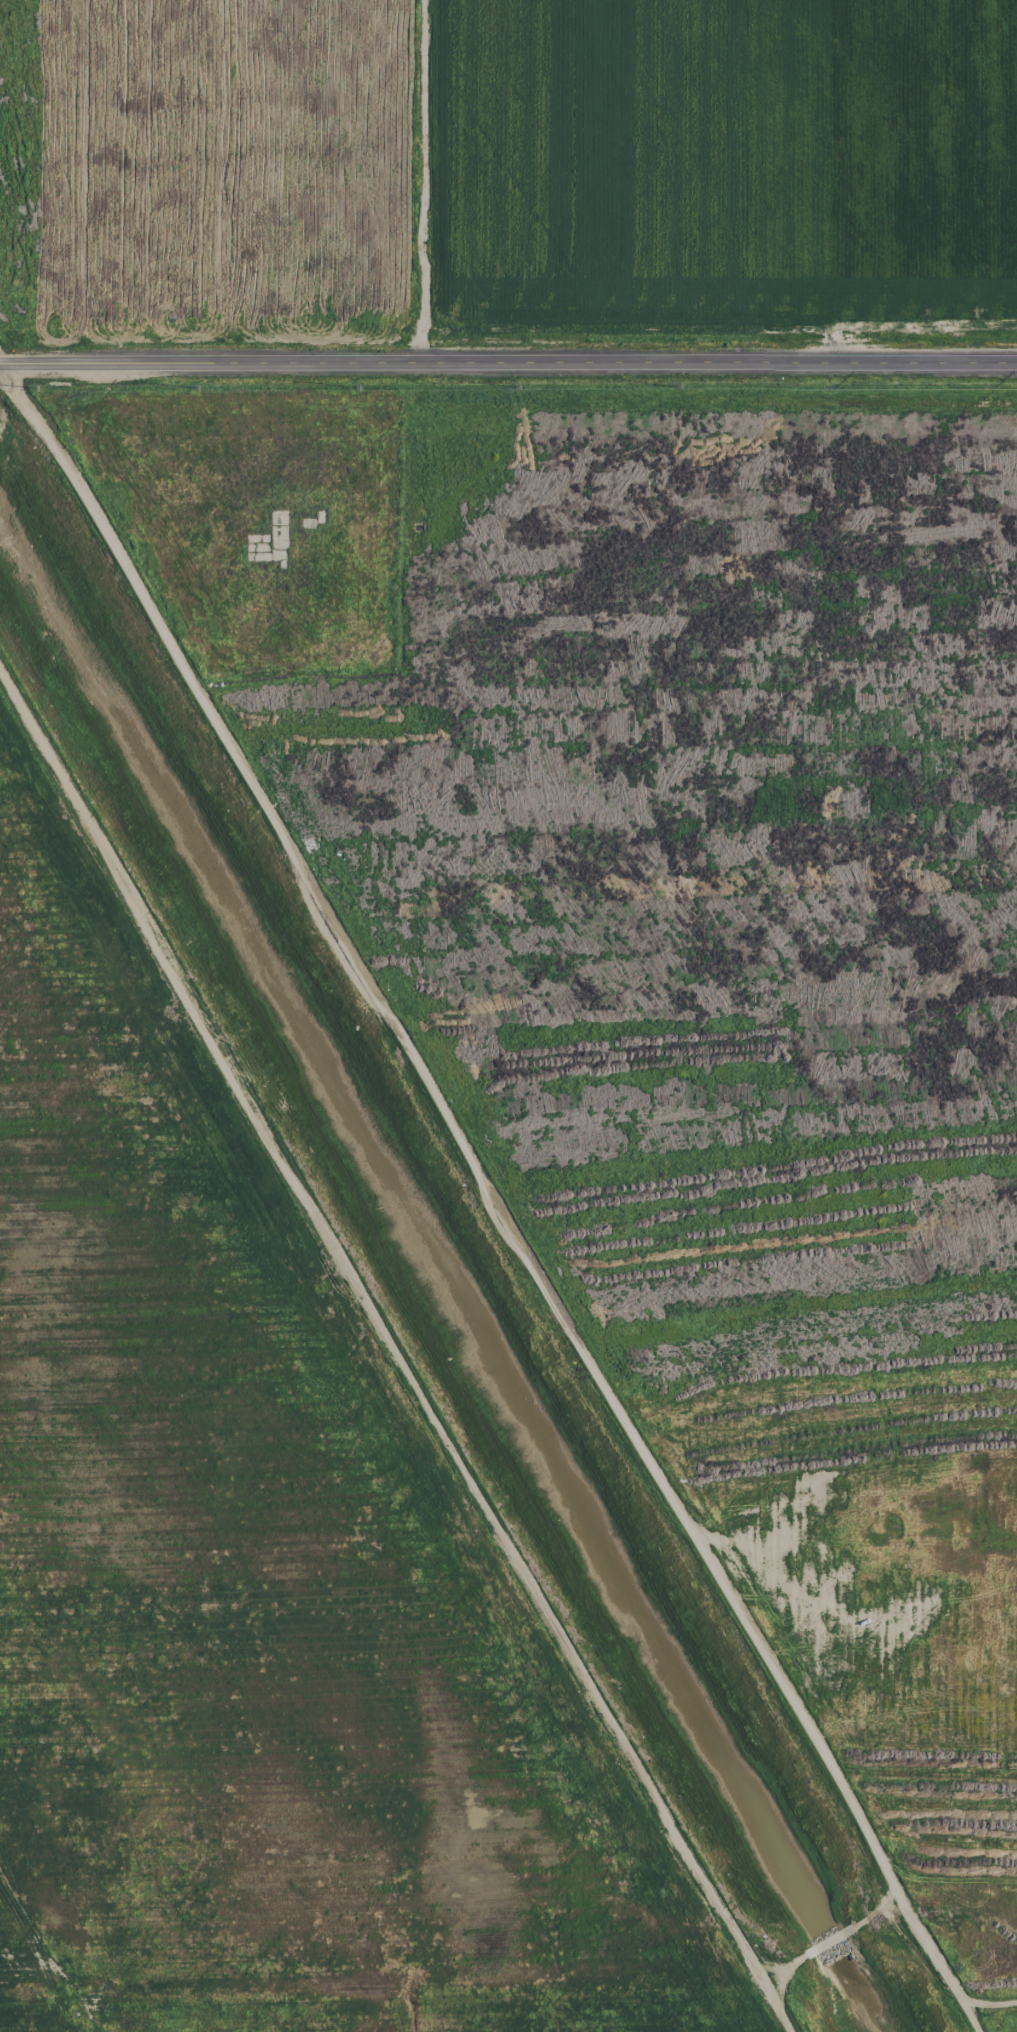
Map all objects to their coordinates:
road: (425, 181)
road: (508, 362)
road: (492, 1195)
road: (991, 2012)

